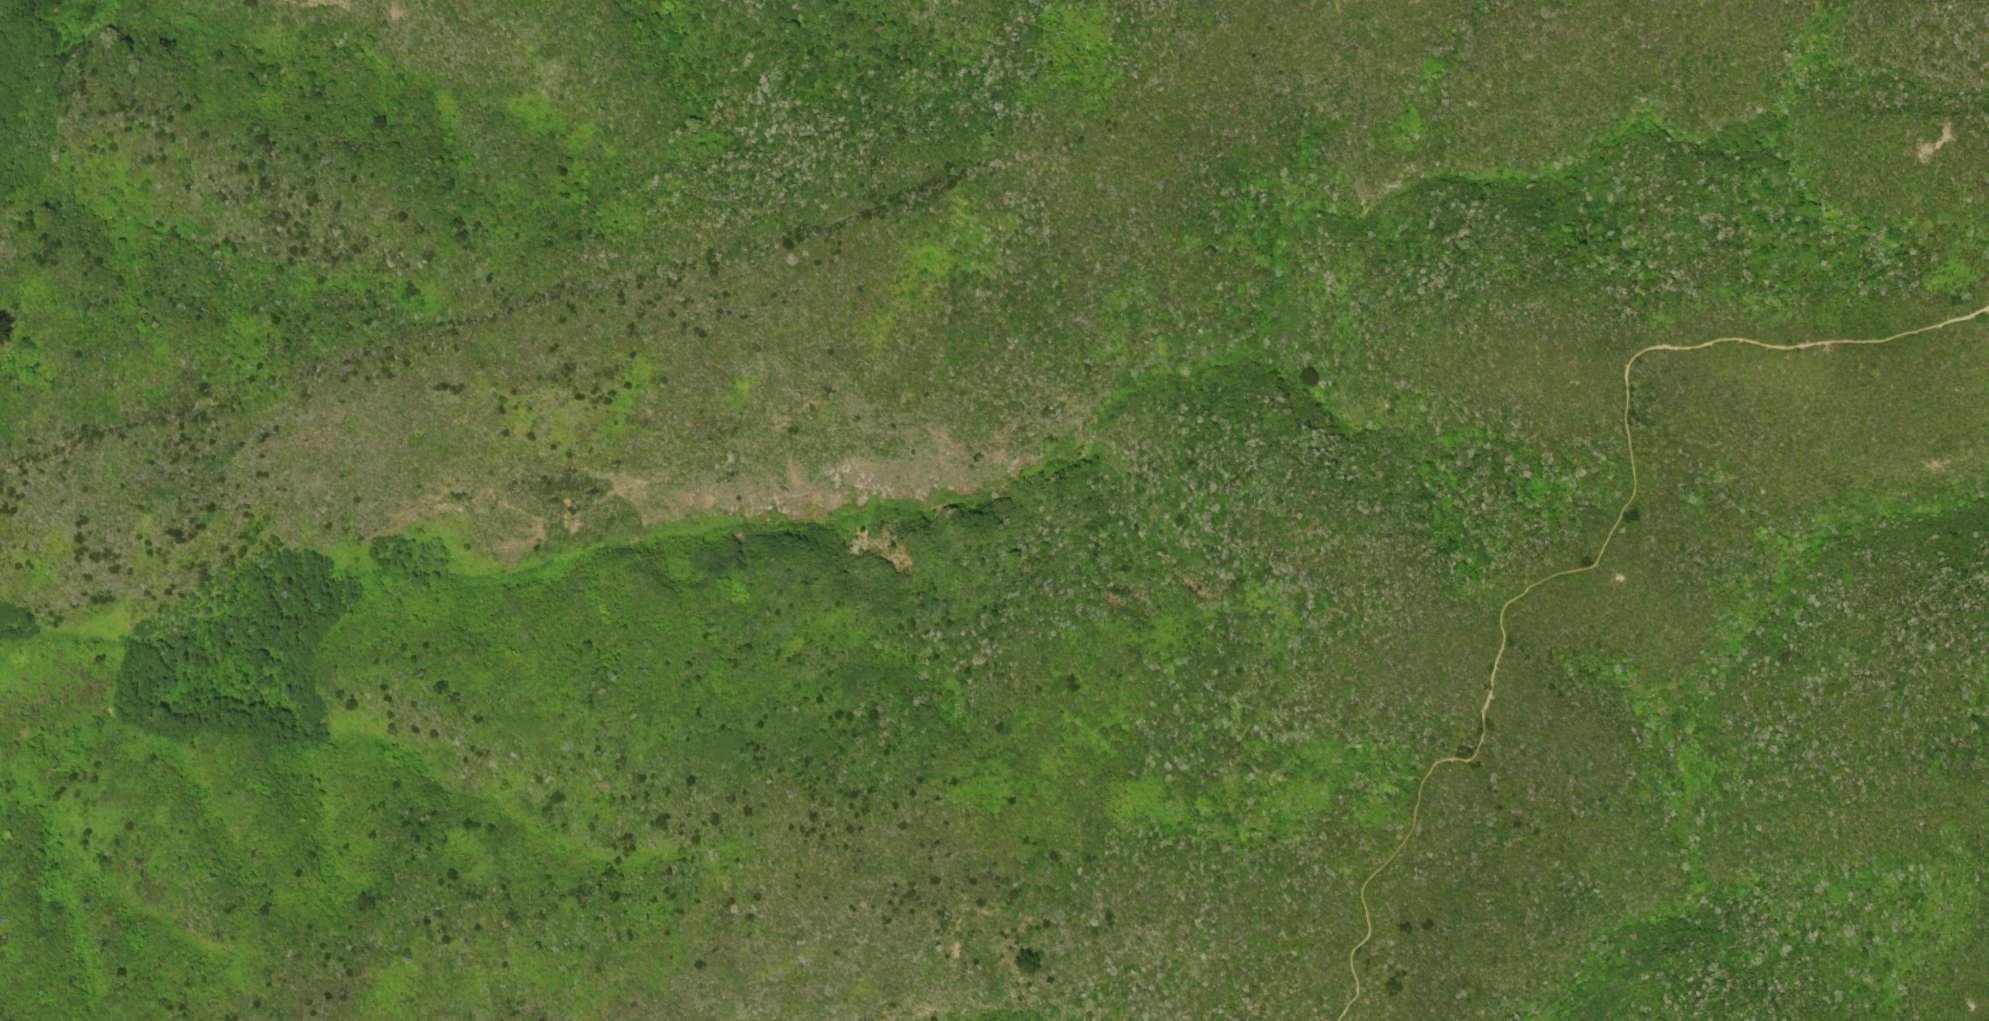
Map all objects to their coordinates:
road: (1235, 7)
park: (1365, 514)
road: (1592, 552)

